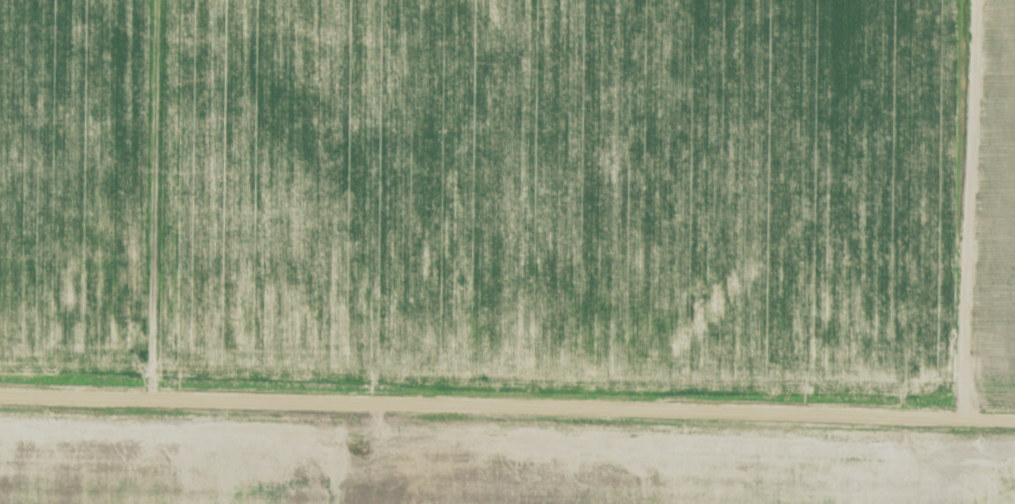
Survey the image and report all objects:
road: (507, 408)

